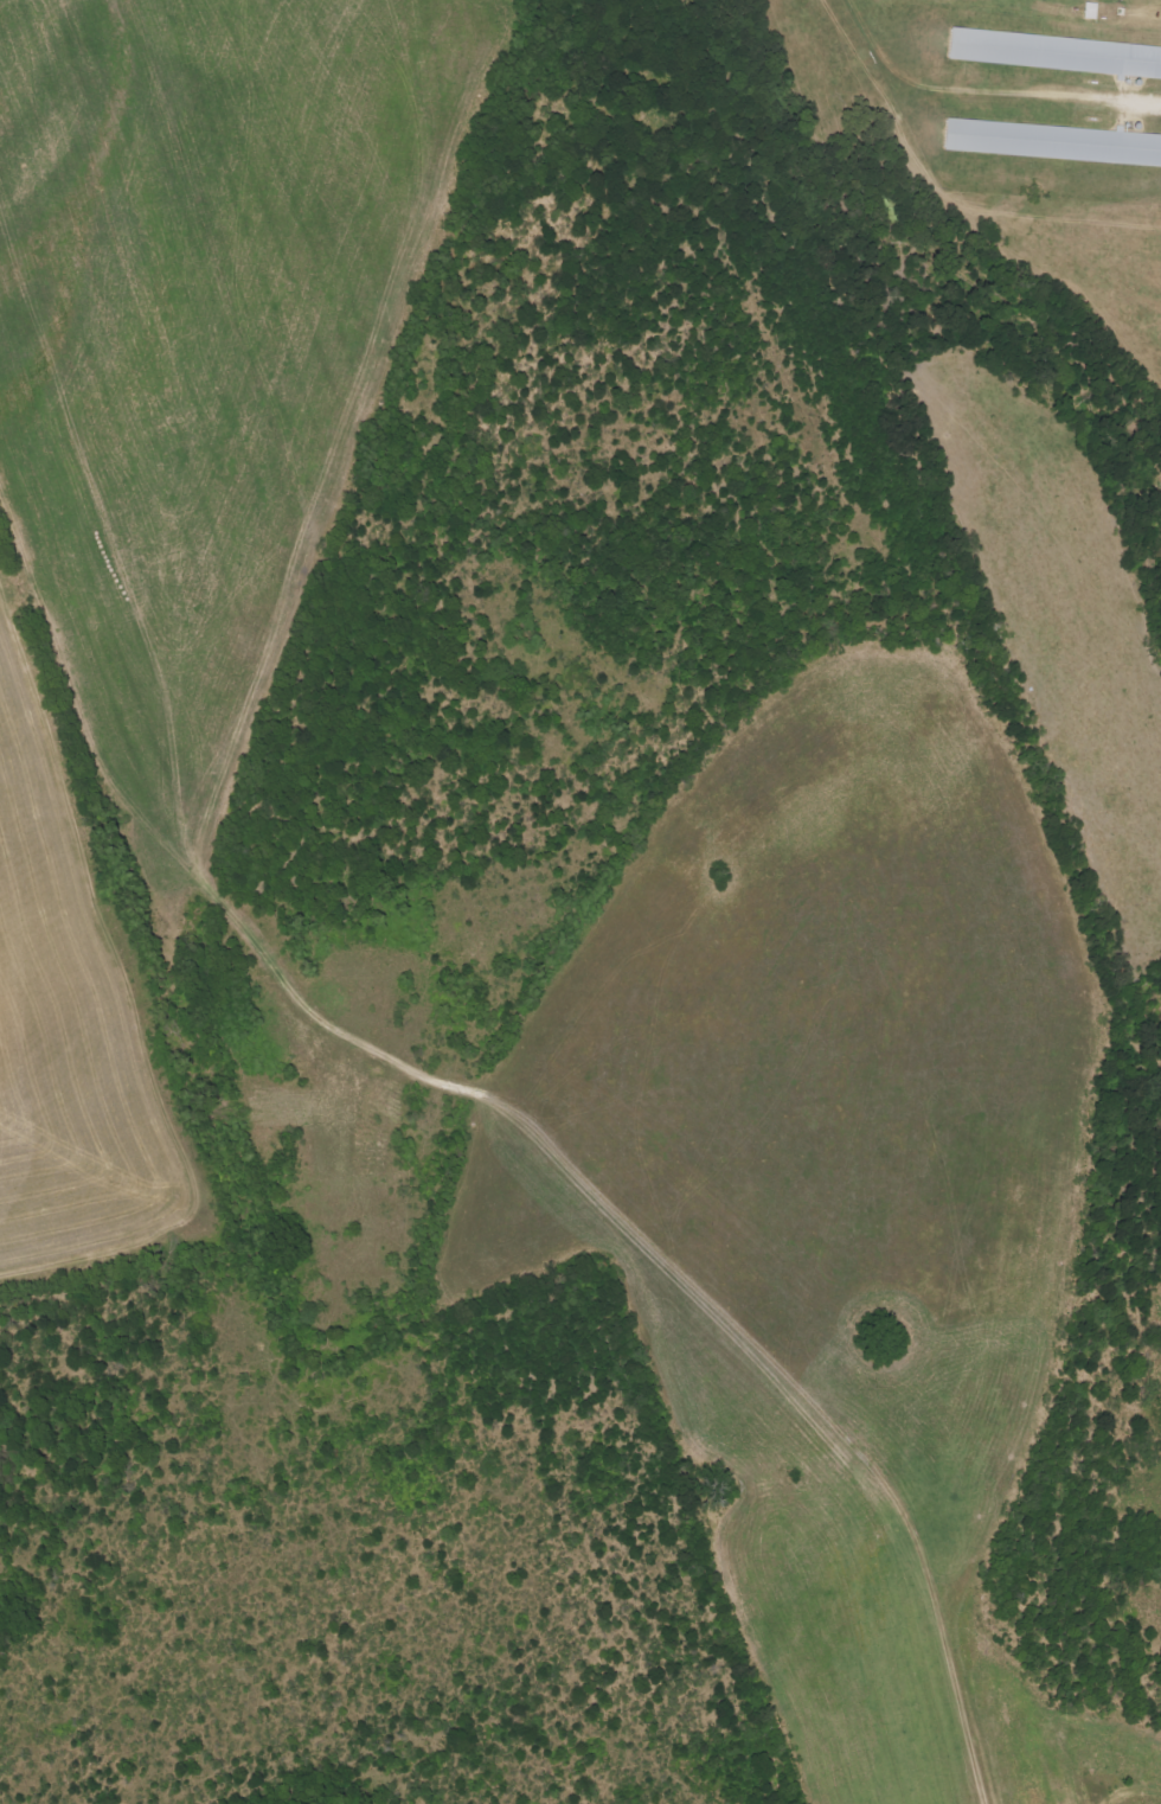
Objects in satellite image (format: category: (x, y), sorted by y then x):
building: (1054, 52)
building: (1052, 142)

